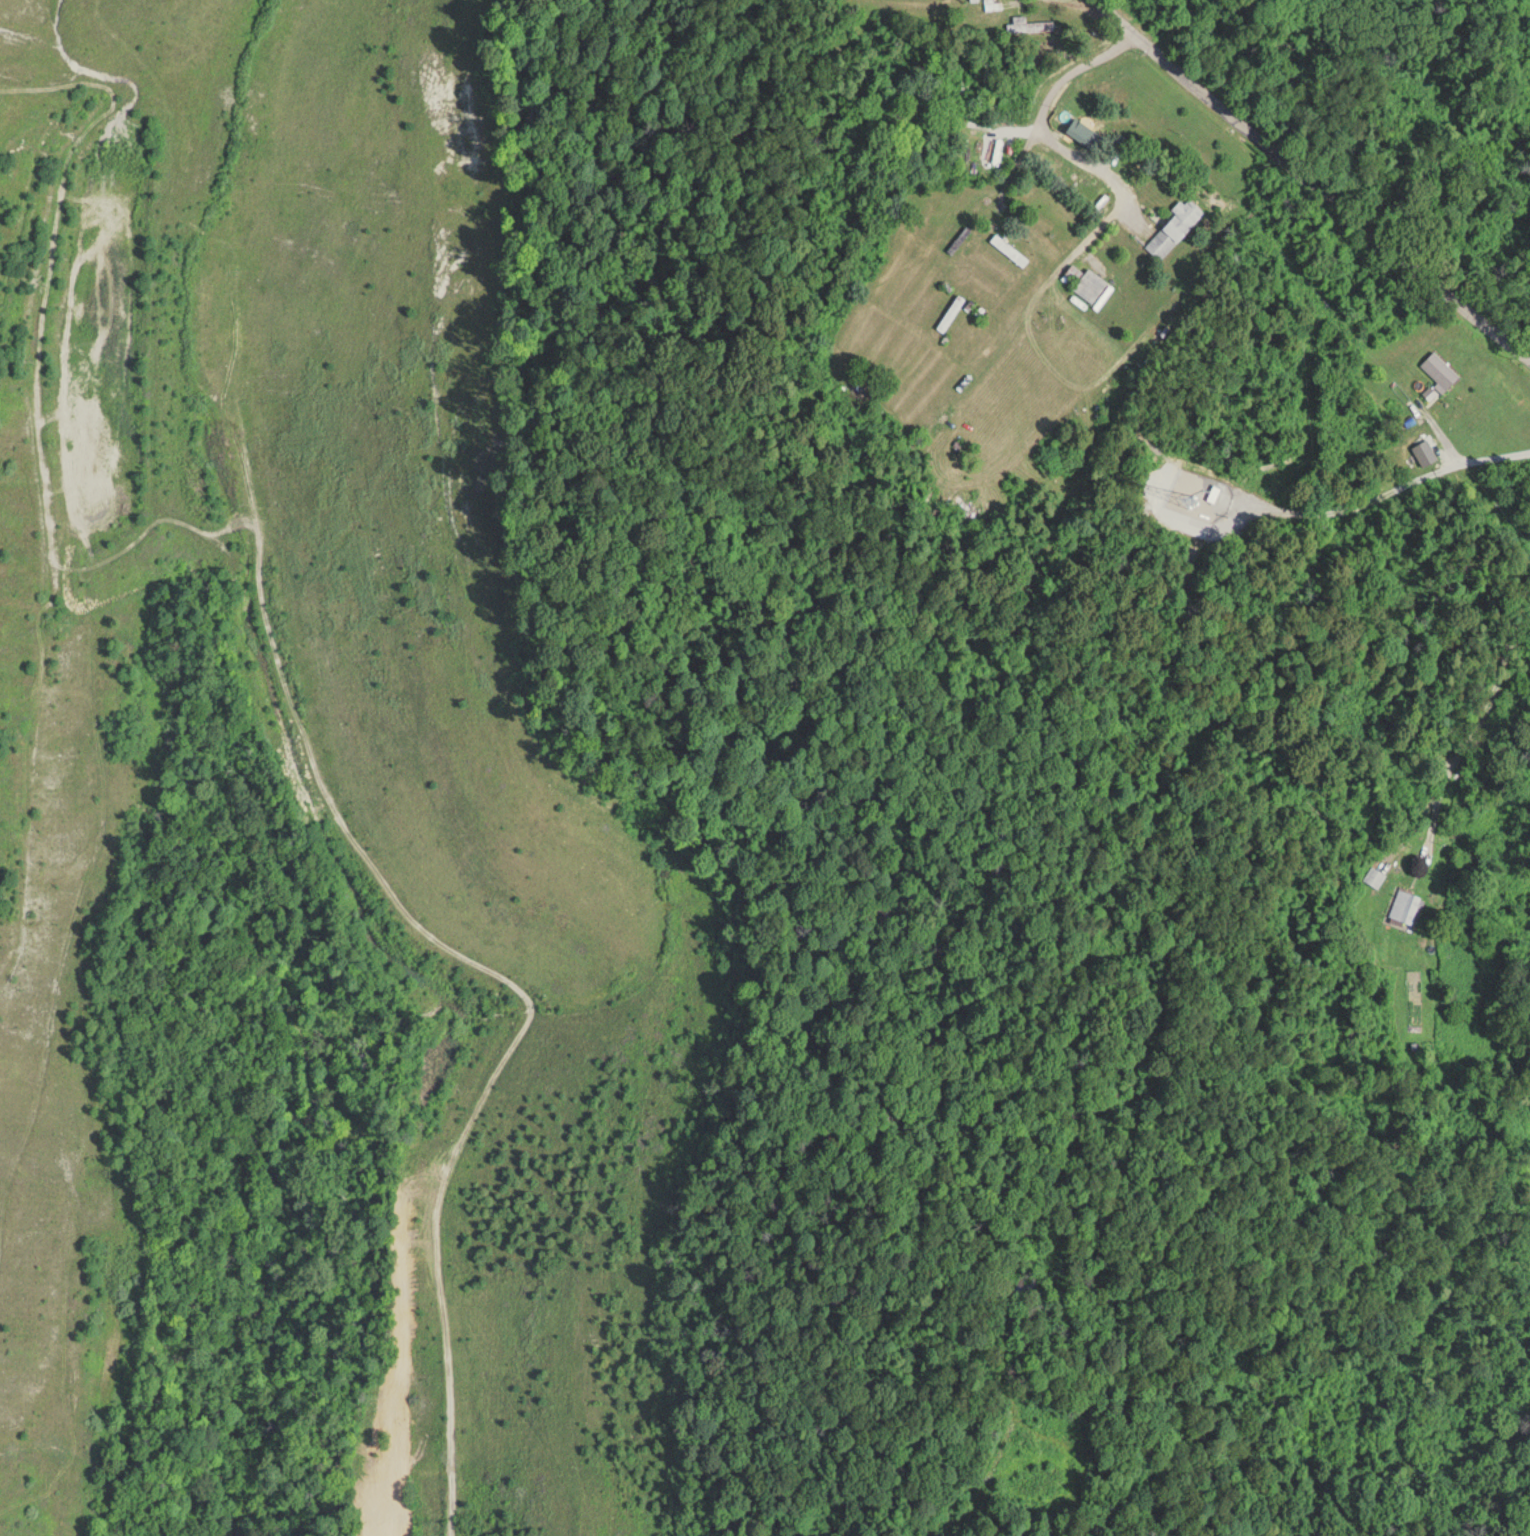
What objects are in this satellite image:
road: (45, 7)
building: (1030, 24)
building: (963, 88)
building: (1091, 136)
road: (1313, 194)
building: (1175, 225)
building: (1010, 248)
building: (1087, 281)
building: (951, 311)
building: (1440, 369)
road: (1317, 425)
road: (1301, 439)
building: (1377, 874)
building: (1407, 904)
road: (1485, 1462)

